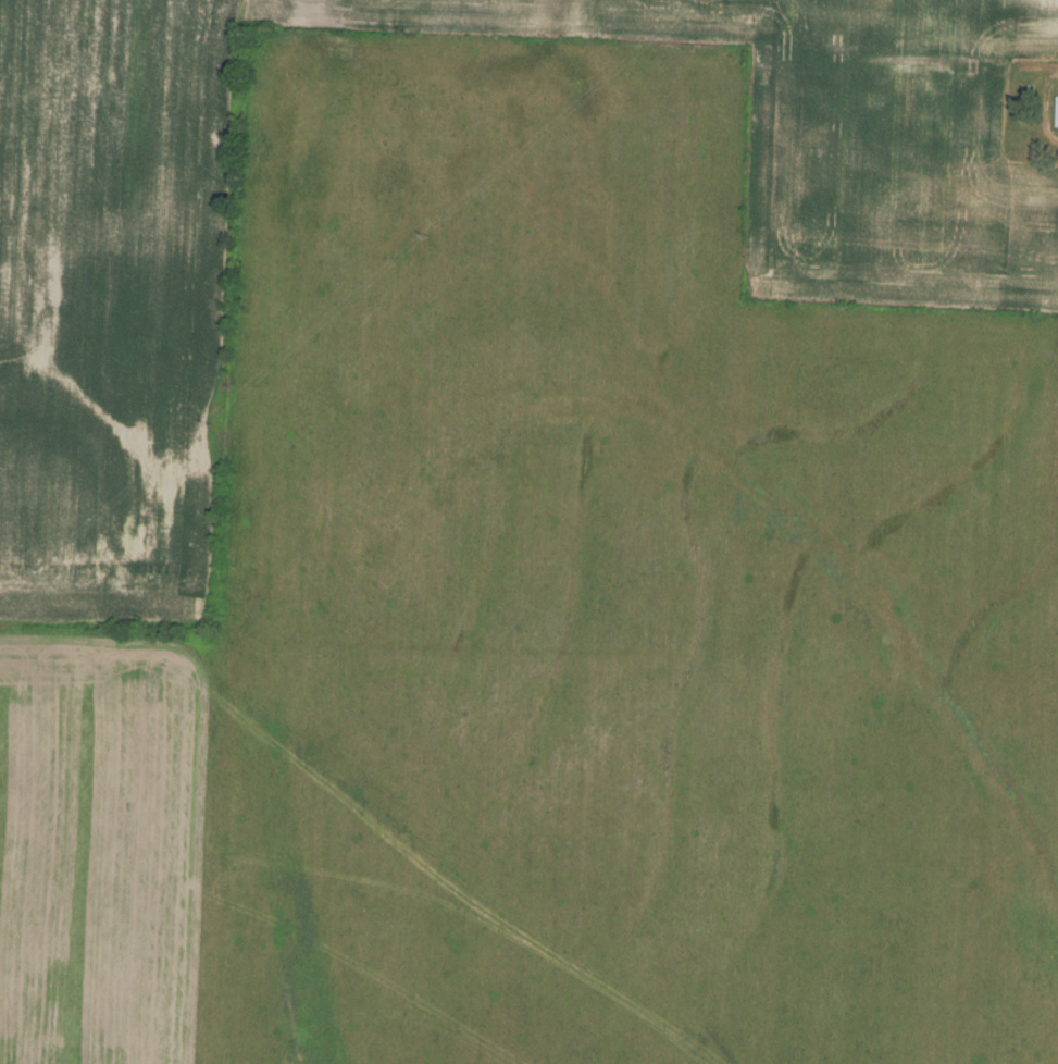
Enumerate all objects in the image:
building: (944, 96)
building: (983, 101)
road: (1049, 111)
building: (1057, 113)
building: (901, 150)

